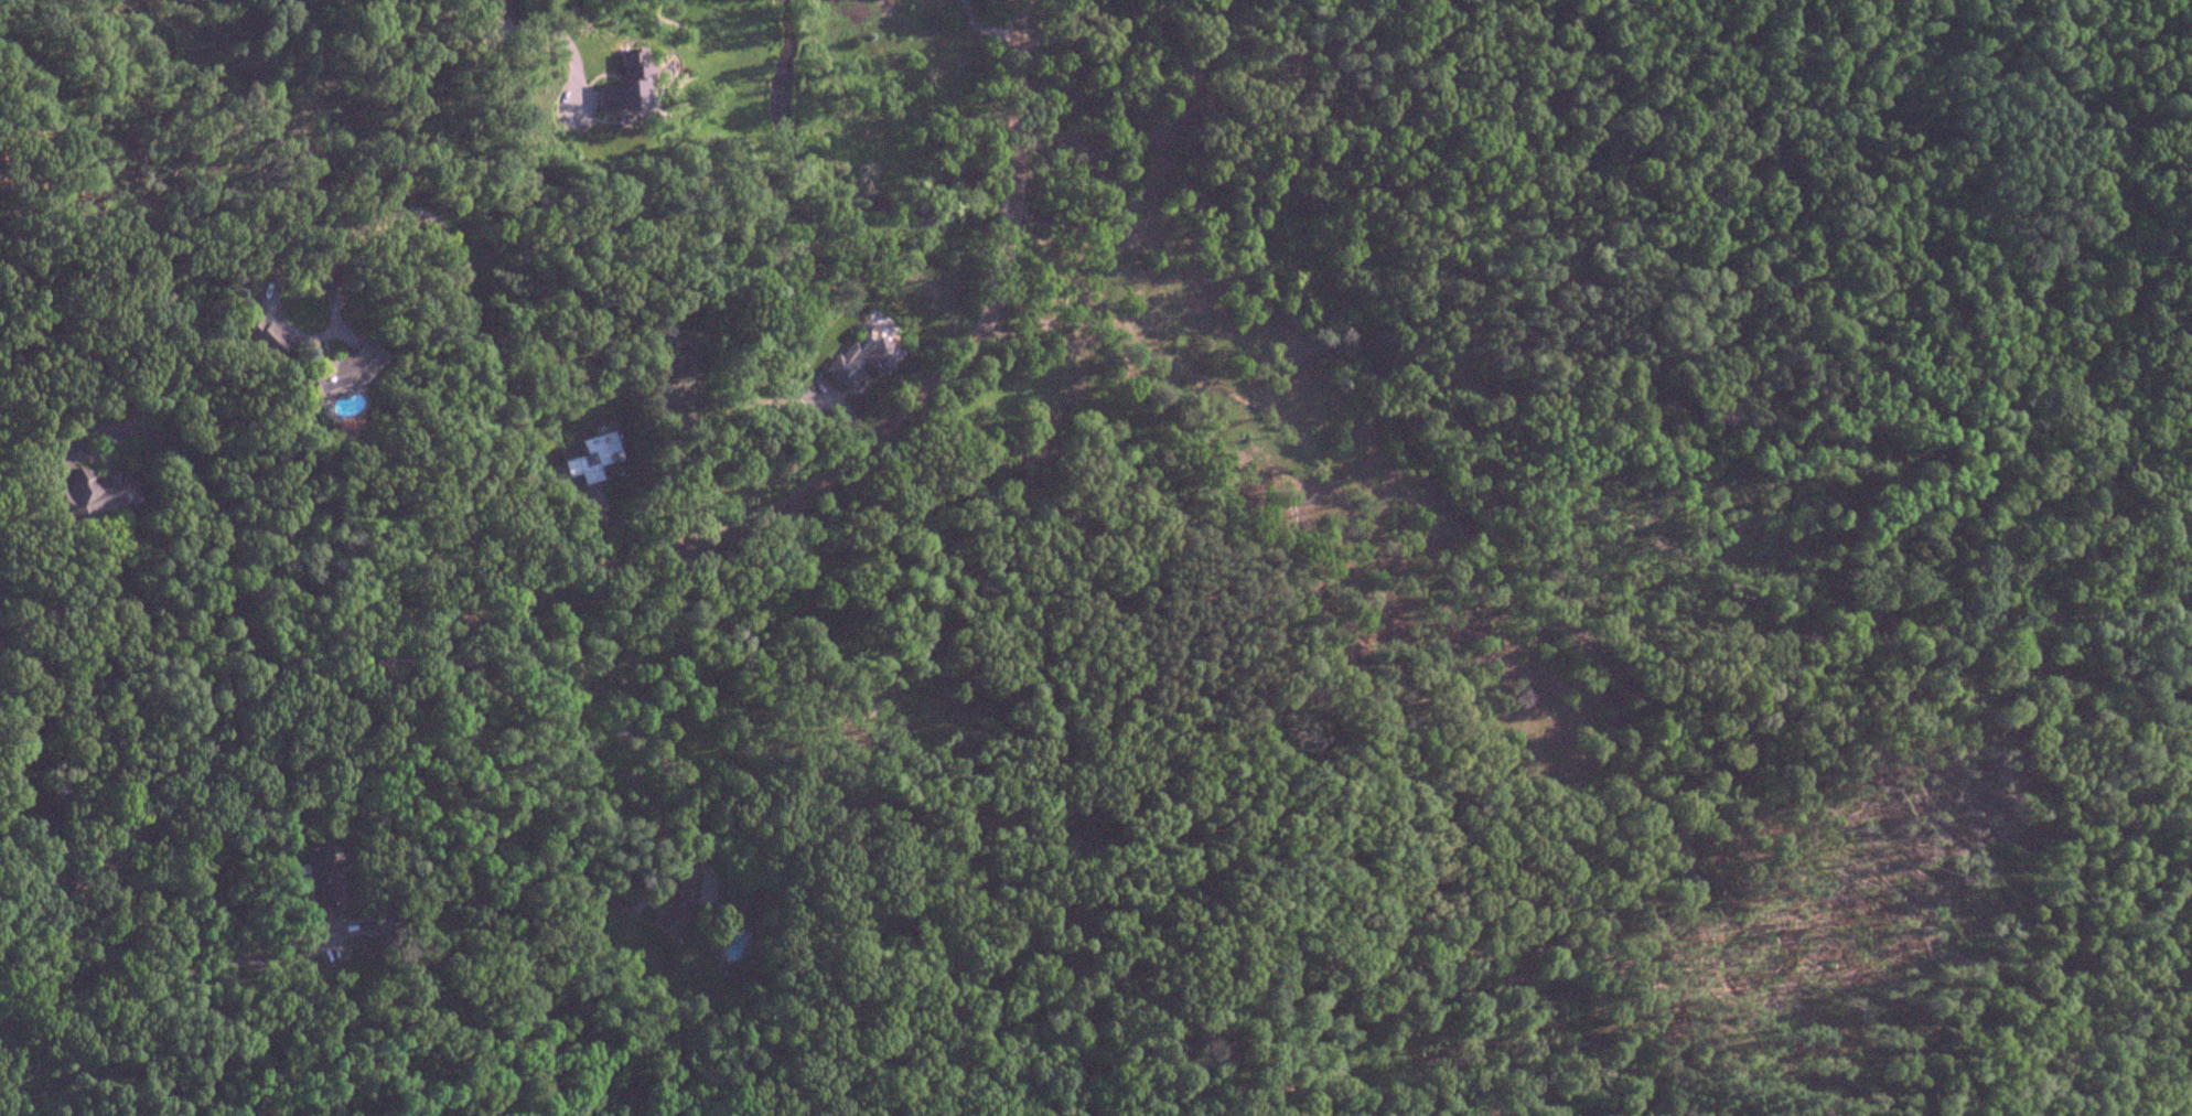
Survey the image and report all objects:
road: (984, 28)
road: (513, 37)
road: (572, 61)
building: (624, 83)
road: (584, 93)
building: (783, 310)
road: (473, 324)
building: (264, 337)
building: (861, 350)
building: (342, 372)
building: (591, 459)
building: (92, 495)
road: (208, 539)
road: (623, 566)
road: (579, 706)
road: (11, 785)
road: (654, 822)
building: (320, 874)
building: (685, 888)
road: (623, 909)
building: (671, 925)
road: (245, 955)
road: (10, 1064)
building: (400, 1115)

